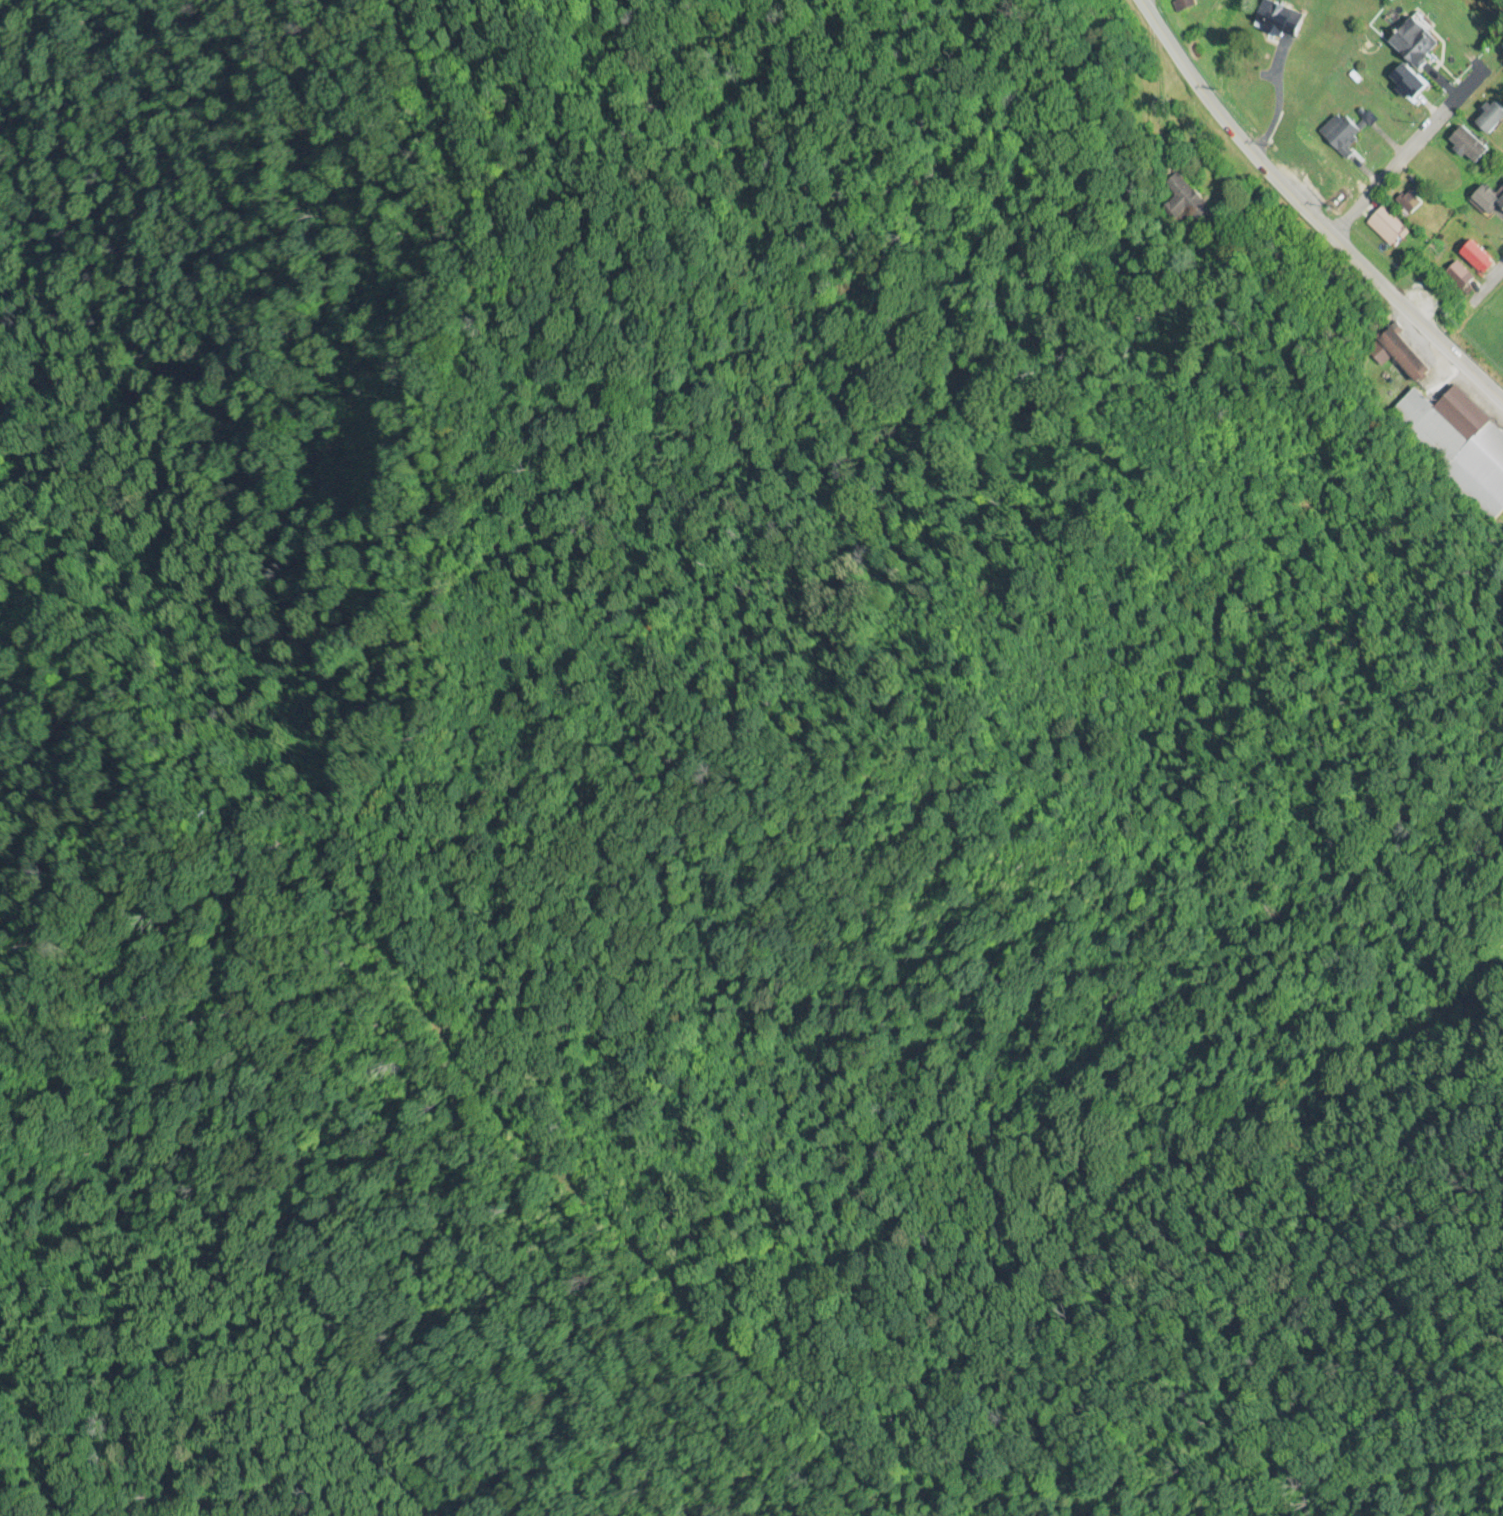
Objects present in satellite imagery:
road: (1147, 6)
building: (1281, 21)
building: (1422, 49)
building: (1408, 84)
building: (1492, 120)
building: (1341, 134)
building: (1470, 146)
road: (1406, 151)
building: (1489, 199)
building: (1411, 203)
road: (1308, 212)
building: (1388, 228)
building: (1479, 257)
building: (1461, 279)
road: (1468, 300)
building: (1458, 445)

